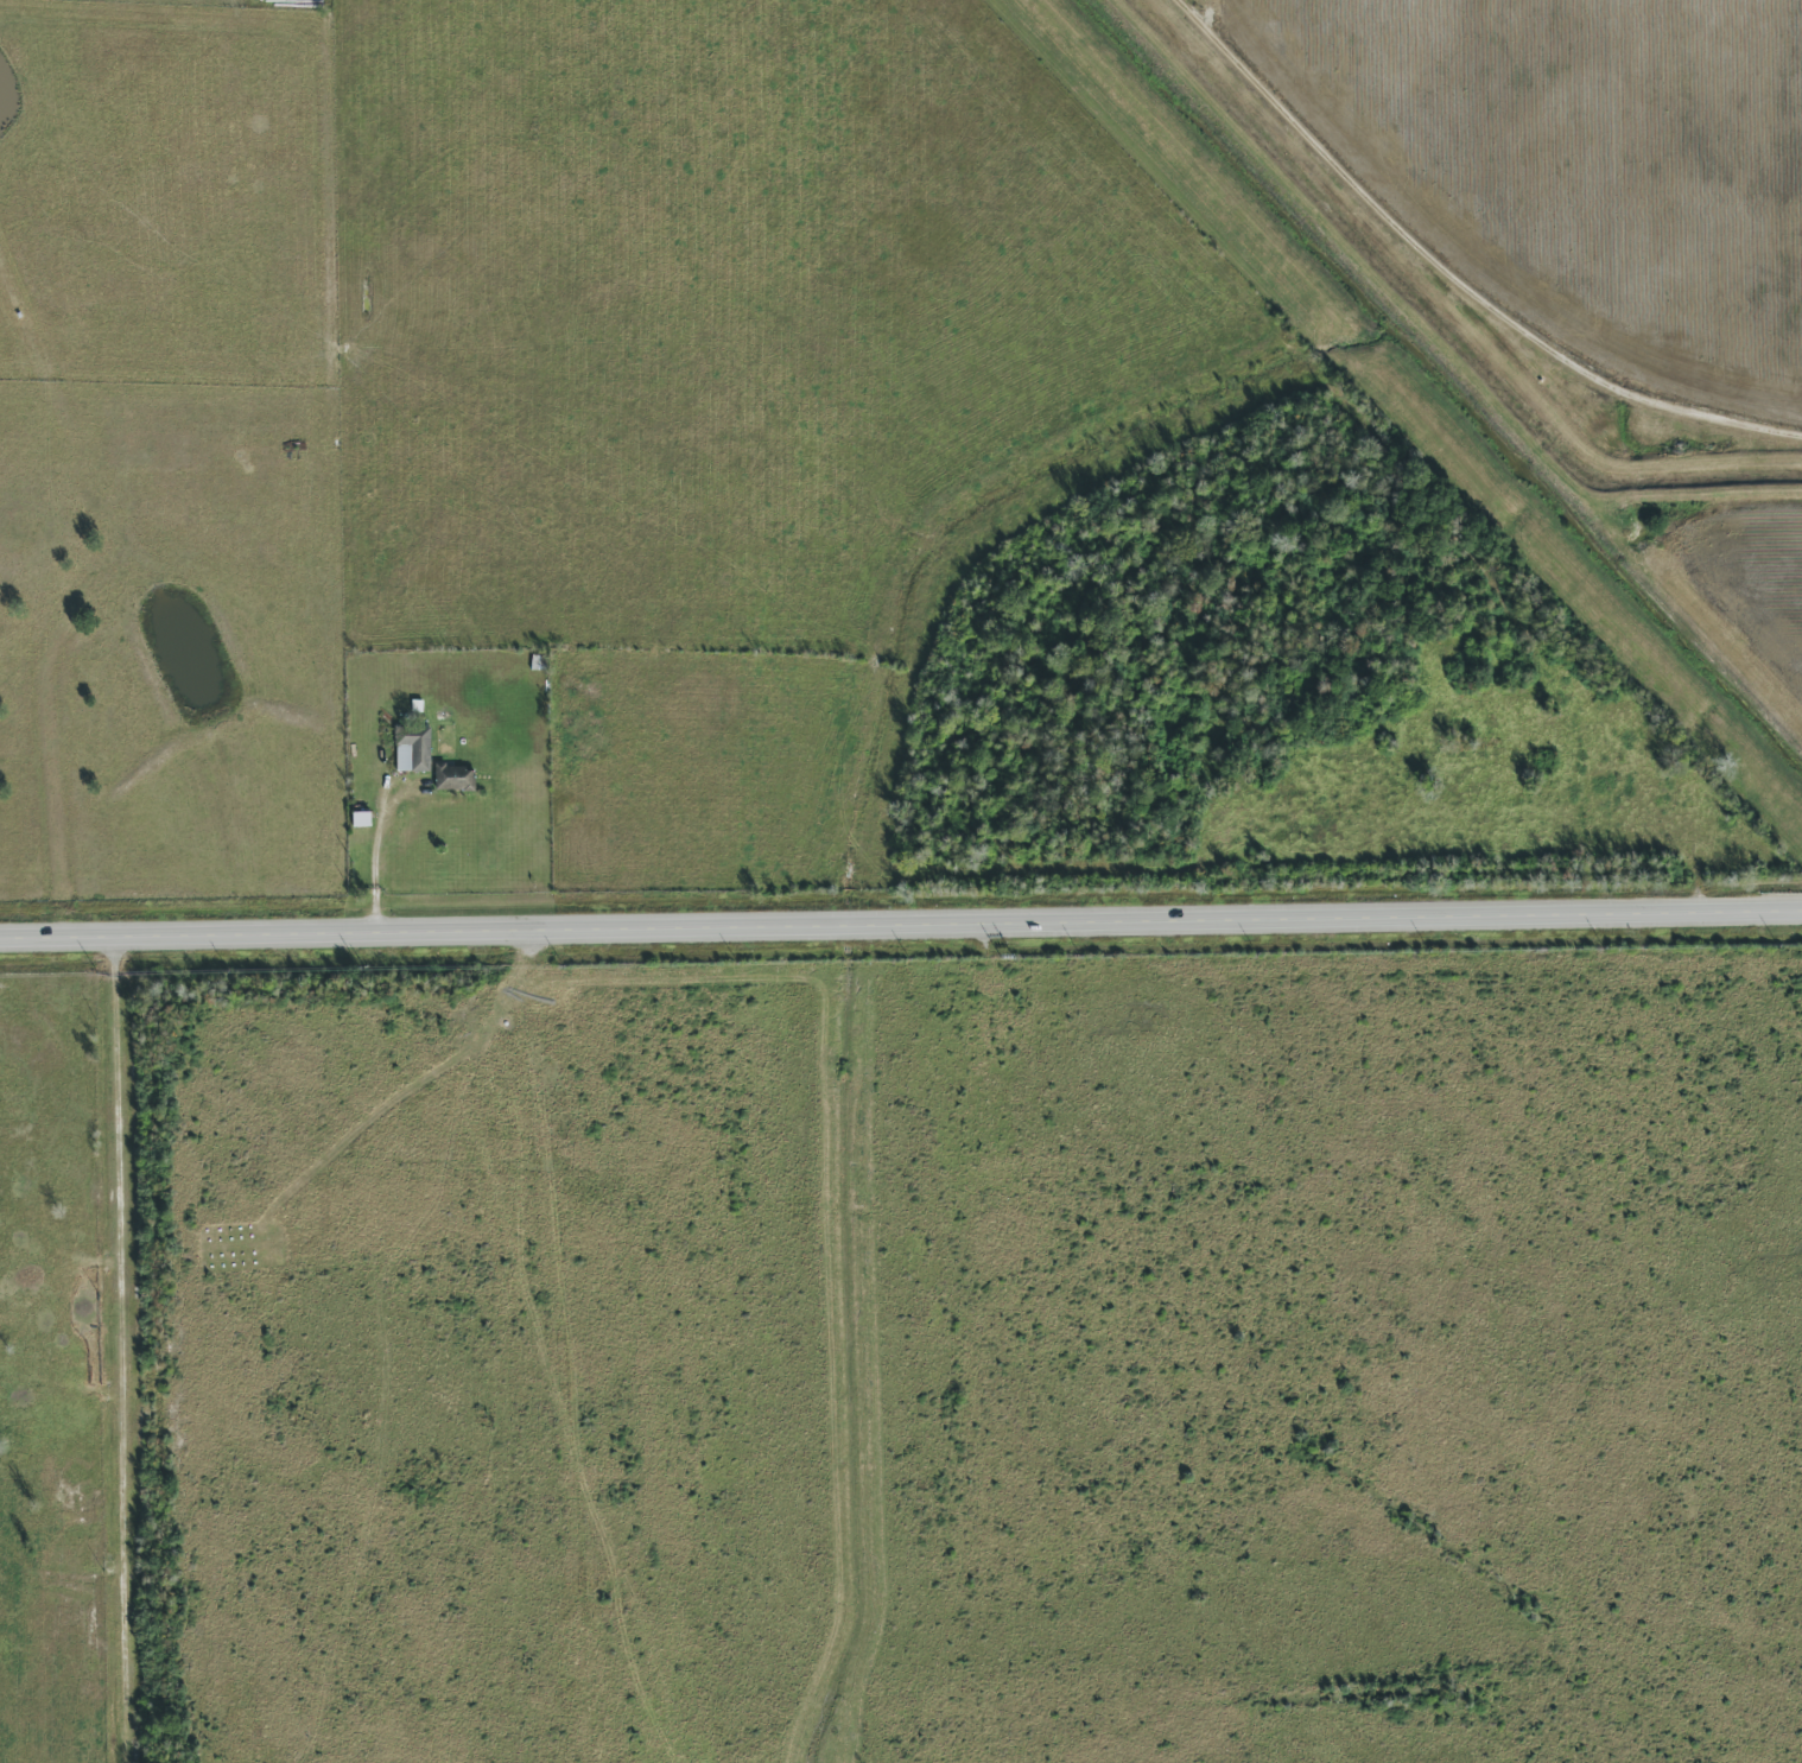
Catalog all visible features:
road: (1195, 28)
road: (1461, 312)
building: (414, 749)
building: (456, 778)
building: (361, 819)
road: (900, 926)
road: (123, 1351)

